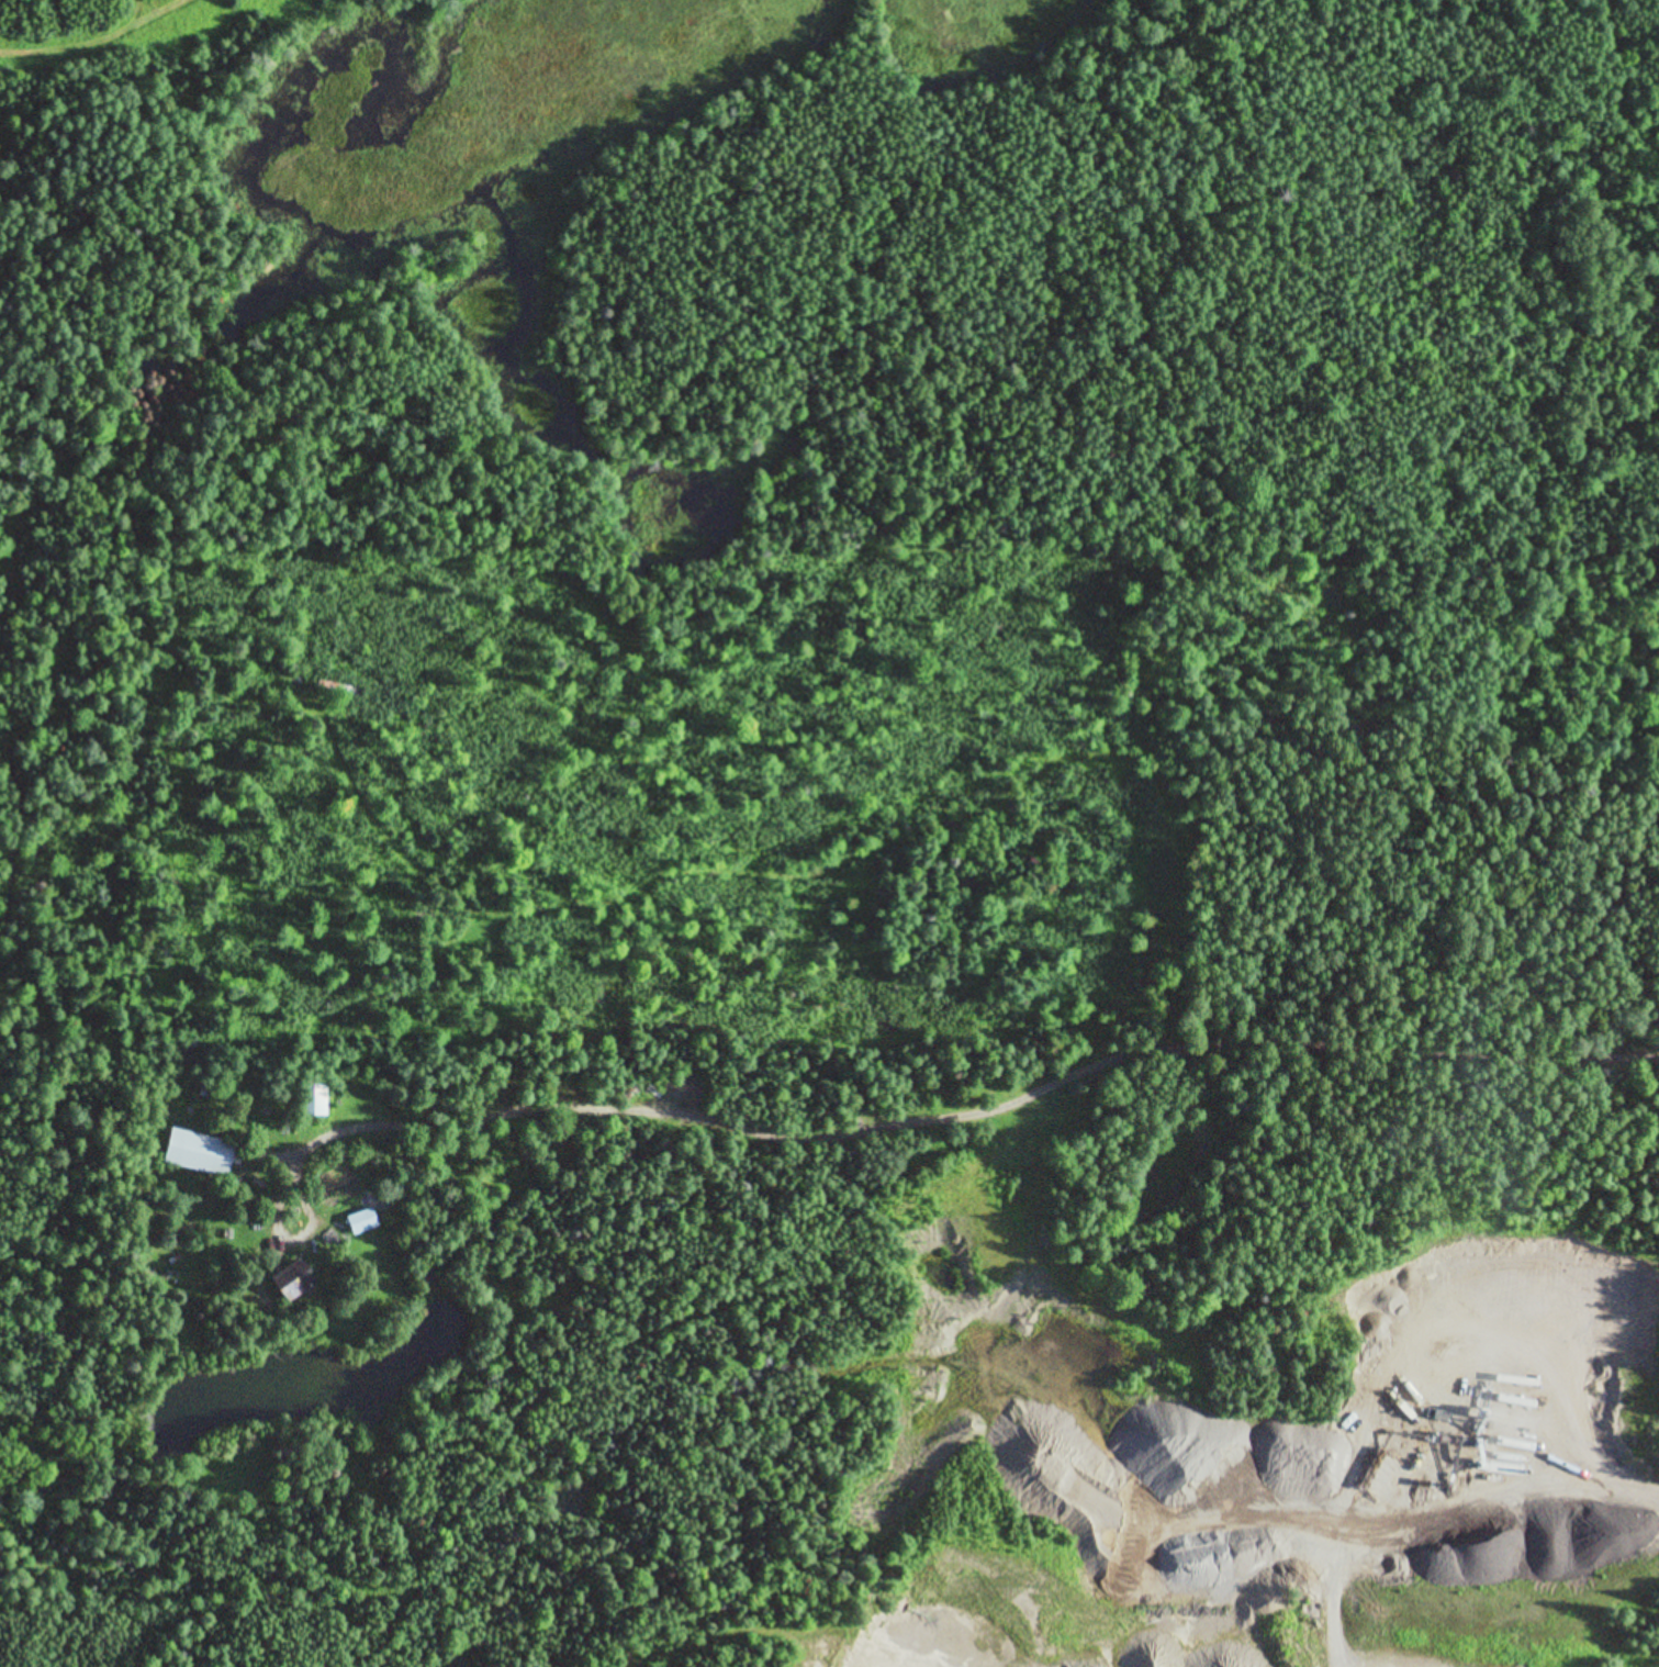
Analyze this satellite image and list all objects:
building: (311, 1097)
building: (195, 1152)
building: (358, 1221)
building: (287, 1282)
quarry: (1253, 1452)

